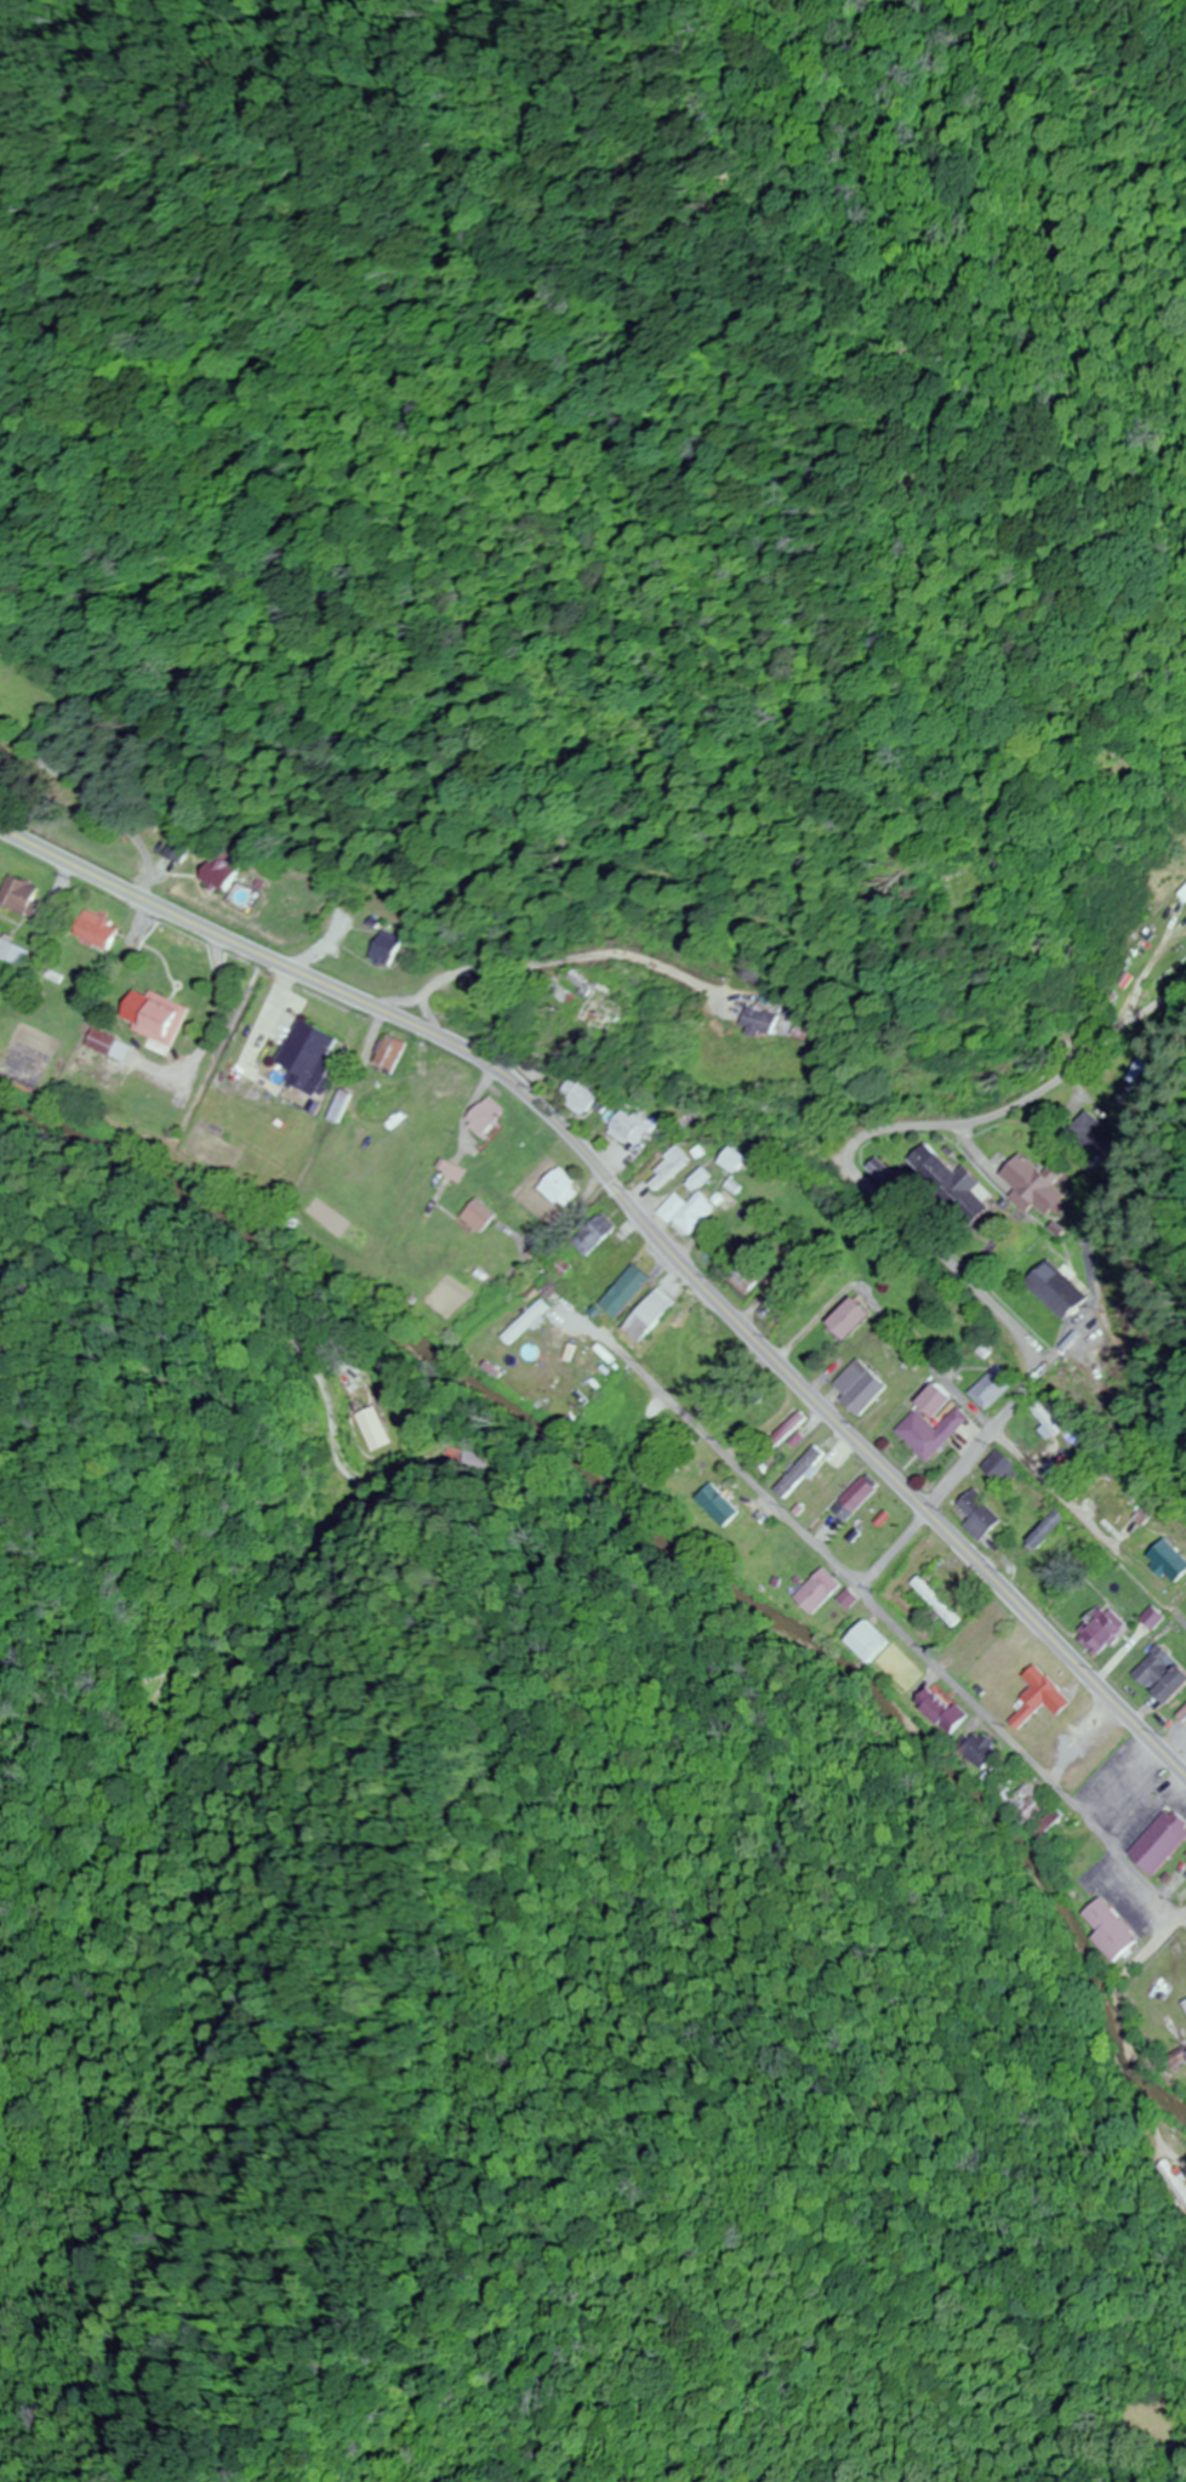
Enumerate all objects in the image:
road: (78, 790)
building: (179, 844)
building: (223, 872)
building: (1182, 892)
building: (23, 895)
building: (101, 930)
building: (388, 949)
building: (16, 952)
road: (586, 955)
building: (494, 997)
building: (608, 1009)
building: (161, 1017)
building: (764, 1021)
building: (114, 1046)
building: (394, 1052)
building: (313, 1055)
building: (1134, 1066)
building: (581, 1095)
building: (344, 1106)
road: (586, 1115)
building: (491, 1117)
building: (633, 1125)
road: (893, 1128)
building: (1088, 1129)
building: (740, 1160)
building: (671, 1167)
building: (455, 1168)
building: (950, 1175)
building: (703, 1178)
building: (1040, 1185)
building: (564, 1186)
building: (729, 1199)
building: (692, 1211)
building: (484, 1214)
road: (646, 1224)
building: (599, 1233)
building: (753, 1262)
building: (1059, 1288)
building: (632, 1290)
building: (656, 1314)
building: (526, 1315)
building: (861, 1316)
road: (1064, 1336)
building: (866, 1384)
building: (994, 1389)
building: (945, 1399)
building: (372, 1425)
building: (633, 1427)
building: (936, 1431)
road: (1024, 1442)
building: (1009, 1468)
road: (953, 1476)
building: (860, 1497)
building: (720, 1504)
building: (985, 1515)
building: (1124, 1516)
building: (1059, 1526)
building: (1173, 1560)
building: (821, 1590)
building: (850, 1596)
building: (941, 1601)
road: (873, 1605)
building: (1158, 1617)
building: (1107, 1630)
building: (873, 1641)
building: (1000, 1657)
building: (1167, 1674)
building: (1044, 1697)
building: (945, 1710)
building: (982, 1751)
building: (1027, 1804)
building: (1164, 1841)
building: (1114, 1929)
road: (1141, 1956)
road: (1130, 2095)

